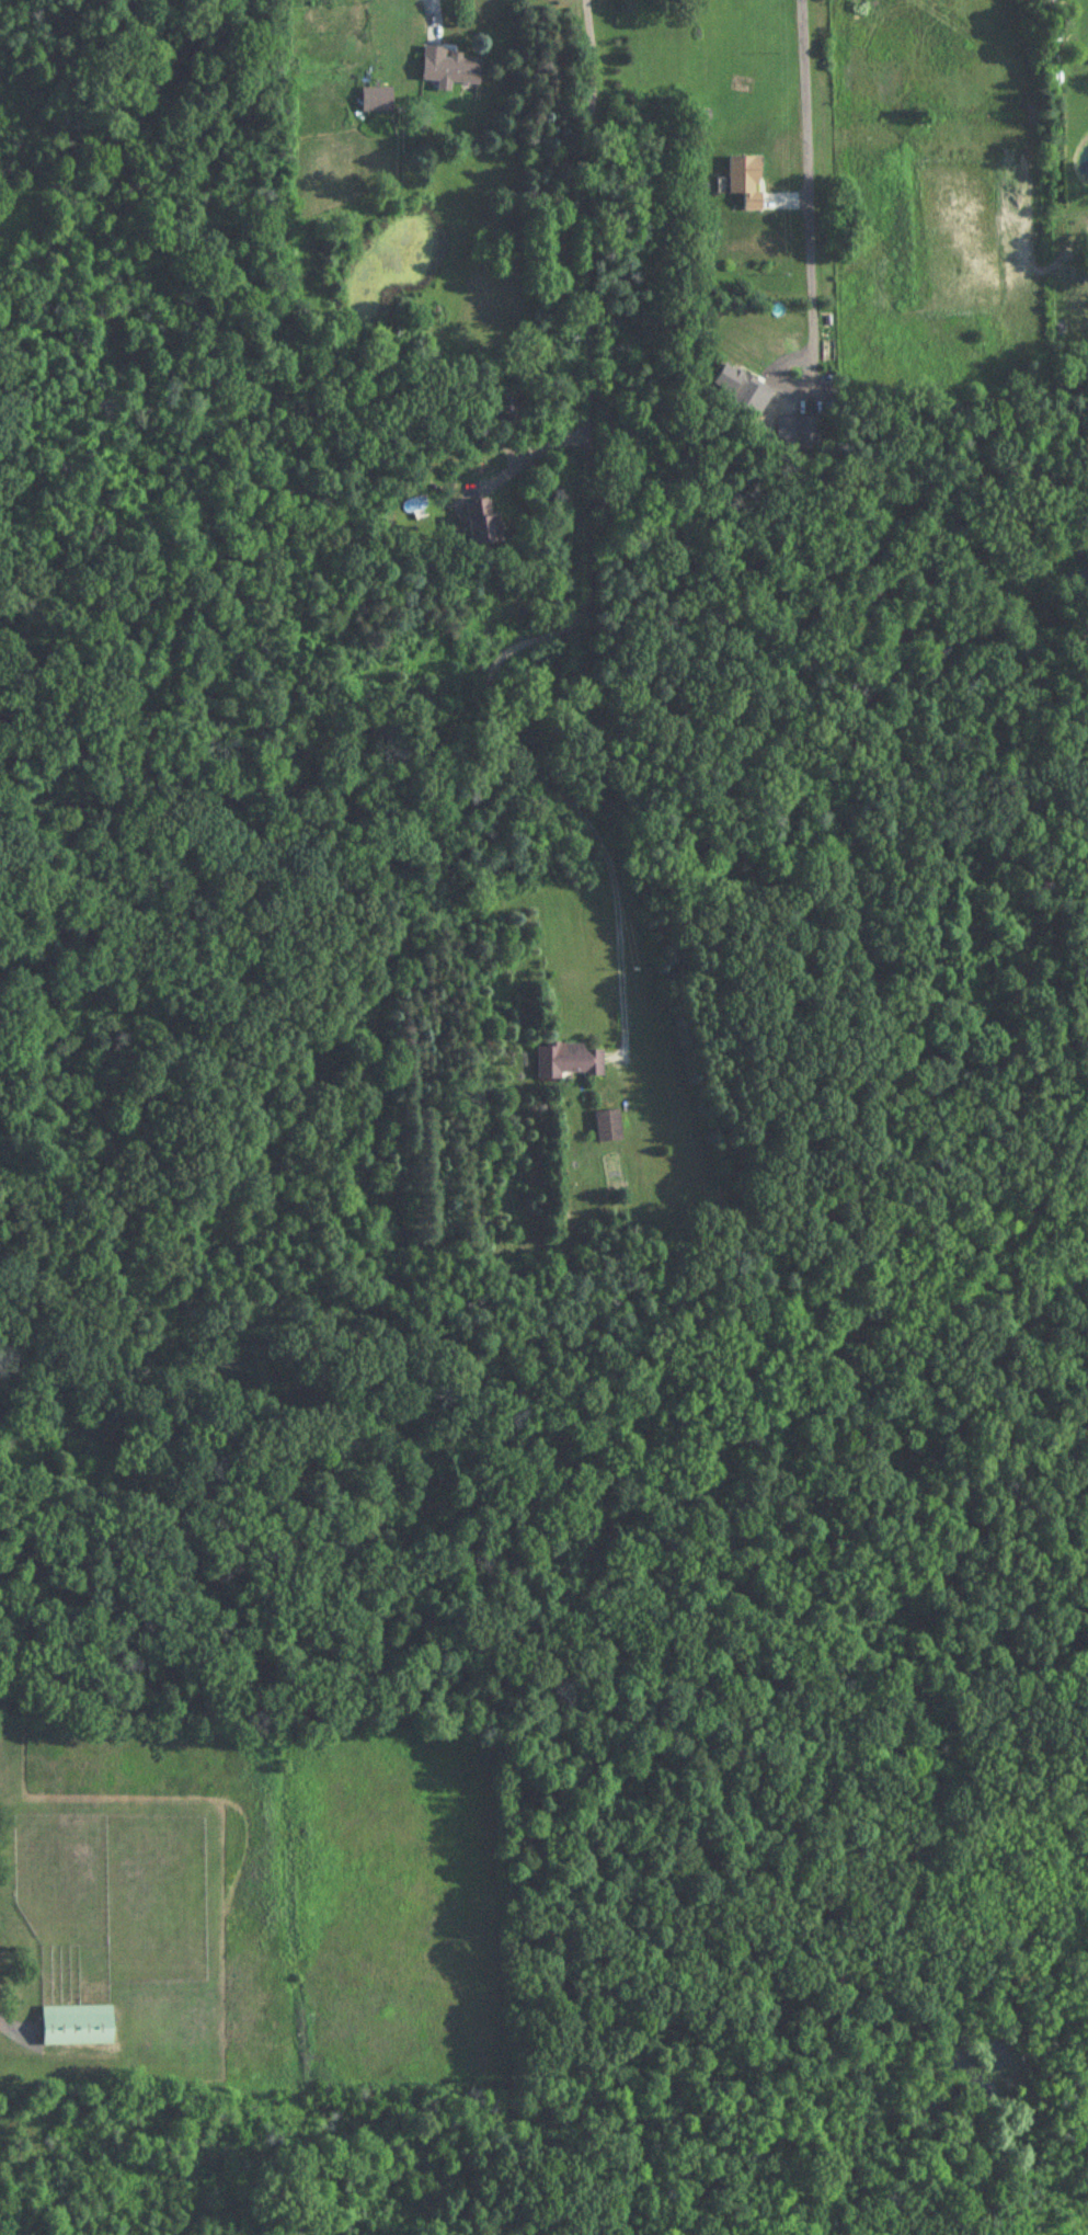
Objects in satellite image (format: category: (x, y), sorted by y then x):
building: (313, 4)
road: (433, 5)
building: (448, 69)
building: (373, 101)
building: (745, 182)
road: (801, 193)
building: (731, 387)
building: (798, 433)
road: (536, 455)
building: (481, 523)
road: (586, 572)
building: (566, 1062)
building: (607, 1129)
building: (77, 2027)

